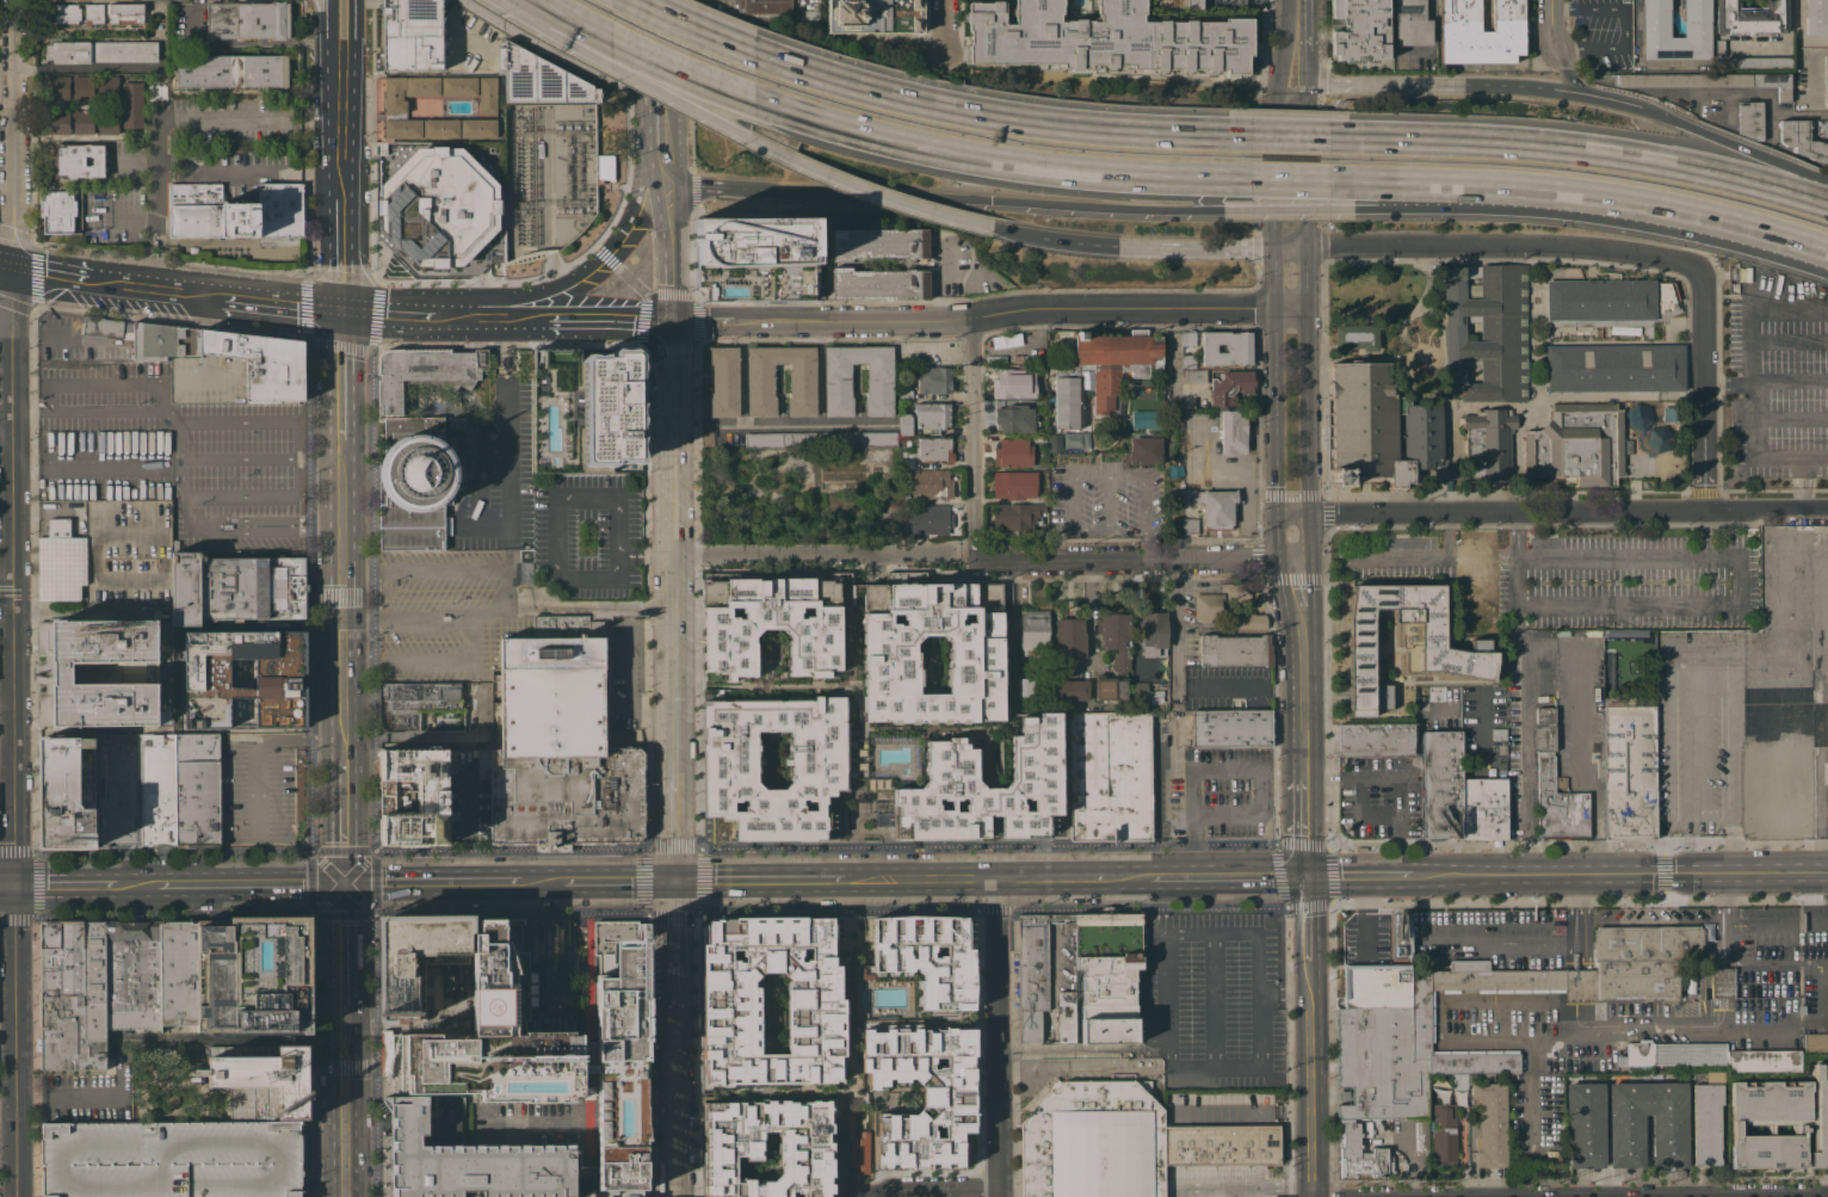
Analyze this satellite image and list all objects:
road: (327, 2)
road: (329, 2)
building: (1177, 5)
building: (765, 6)
building: (63, 13)
building: (94, 13)
building: (125, 13)
building: (875, 16)
building: (1750, 17)
building: (1816, 17)
building: (247, 20)
road: (352, 23)
road: (666, 23)
road: (1295, 23)
building: (1410, 23)
road: (1550, 24)
road: (1626, 24)
road: (329, 25)
road: (943, 25)
road: (691, 27)
building: (1358, 30)
building: (1655, 31)
building: (1480, 32)
road: (1798, 32)
parking lot: (1600, 33)
building: (412, 35)
building: (1105, 37)
road: (1433, 39)
road: (251, 43)
building: (1719, 48)
building: (101, 51)
road: (641, 54)
building: (1759, 62)
road: (1302, 66)
road: (73, 68)
road: (1564, 69)
road: (1812, 69)
building: (233, 70)
road: (1286, 76)
building: (538, 79)
road: (667, 79)
building: (1706, 81)
building: (1826, 81)
road: (1352, 84)
building: (107, 85)
road: (1315, 85)
road: (1477, 85)
building: (458, 86)
building: (58, 87)
building: (81, 87)
road: (1756, 90)
building: (487, 94)
road: (1293, 95)
road: (1606, 99)
building: (404, 104)
building: (132, 105)
road: (163, 116)
road: (998, 117)
road: (340, 118)
building: (1750, 119)
building: (60, 122)
building: (84, 122)
building: (109, 123)
building: (1827, 125)
building: (440, 128)
building: (478, 128)
road: (742, 136)
road: (1289, 136)
building: (1802, 138)
road: (668, 148)
road: (1734, 148)
road: (1580, 152)
building: (76, 160)
road: (998, 161)
road: (1308, 166)
road: (247, 168)
power substation: (549, 177)
road: (1277, 177)
road: (1290, 180)
road: (5, 186)
road: (644, 189)
road: (751, 189)
road: (1557, 192)
road: (910, 196)
traffic signals: (990, 200)
building: (438, 206)
road: (1119, 208)
road: (1290, 209)
building: (56, 211)
building: (235, 211)
road: (1556, 214)
road: (1055, 239)
building: (878, 243)
road: (1805, 245)
road: (1508, 246)
road: (1161, 247)
road: (1291, 247)
road: (1315, 247)
road: (1229, 248)
road: (1265, 248)
road: (339, 252)
road: (671, 252)
building: (755, 258)
road: (6, 265)
traffic signals: (12, 266)
road: (50, 272)
road: (634, 282)
building: (879, 284)
road: (943, 284)
road: (158, 286)
road: (1421, 295)
road: (527, 300)
road: (280, 301)
building: (1610, 302)
traffic signals: (338, 308)
road: (1291, 308)
road: (1826, 308)
road: (390, 311)
road: (1002, 314)
road: (500, 317)
road: (615, 321)
traffic signals: (672, 321)
road: (702, 321)
building: (103, 327)
building: (1486, 333)
building: (1188, 338)
road: (1789, 339)
road: (64, 340)
building: (1357, 340)
building: (165, 341)
road: (1172, 346)
building: (1227, 347)
road: (340, 348)
building: (1187, 360)
building: (261, 363)
building: (1616, 368)
road: (1749, 368)
building: (425, 371)
building: (1103, 371)
road: (339, 374)
building: (1194, 375)
building: (723, 380)
building: (838, 380)
building: (934, 380)
road: (1789, 380)
building: (760, 381)
road: (1725, 381)
building: (1014, 383)
building: (1230, 387)
road: (1702, 388)
building: (904, 393)
road: (1620, 395)
road: (1307, 402)
building: (610, 409)
building: (932, 415)
building: (1637, 415)
building: (1014, 418)
building: (1144, 418)
road: (1789, 418)
road: (273, 421)
building: (904, 422)
building: (1379, 426)
building: (1233, 431)
road: (8, 436)
road: (972, 437)
road: (506, 438)
road: (672, 438)
building: (1038, 438)
building: (1653, 438)
building: (820, 439)
road: (17, 442)
building: (1055, 443)
building: (1489, 443)
building: (1577, 444)
building: (934, 449)
building: (1144, 449)
road: (1274, 449)
parking lot: (165, 450)
building: (1013, 452)
road: (239, 456)
building: (904, 456)
road: (1815, 457)
road: (1802, 462)
road: (372, 463)
road: (1804, 468)
road: (1798, 469)
road: (179, 470)
road: (1105, 474)
building: (1446, 476)
building: (416, 481)
road: (1796, 481)
road: (1808, 481)
building: (931, 485)
building: (1014, 485)
road: (8, 490)
road: (239, 493)
road: (1801, 494)
road: (1802, 500)
road: (1107, 501)
road: (1818, 505)
building: (1215, 506)
road: (1802, 506)
road: (1534, 511)
road: (556, 513)
building: (1015, 516)
building: (928, 520)
building: (1190, 525)
building: (58, 527)
road: (1088, 529)
road: (1365, 531)
road: (1446, 532)
road: (1705, 533)
road: (1517, 535)
road: (646, 548)
road: (823, 553)
road: (1406, 553)
road: (1141, 559)
road: (644, 561)
building: (61, 567)
road: (440, 570)
road: (356, 572)
parking lot: (1626, 581)
road: (1309, 582)
building: (237, 587)
building: (1236, 590)
road: (341, 597)
road: (315, 598)
road: (1739, 604)
building: (1208, 606)
road: (570, 607)
road: (75, 612)
road: (490, 613)
building: (1245, 621)
road: (1826, 621)
building: (770, 623)
road: (1174, 623)
road: (1305, 625)
building: (1033, 629)
building: (1153, 633)
building: (1069, 637)
road: (473, 640)
building: (1404, 640)
road: (1561, 643)
building: (888, 648)
building: (1235, 650)
building: (1122, 653)
building: (97, 672)
building: (283, 678)
road: (1826, 680)
building: (1024, 687)
building: (1140, 689)
road: (1246, 689)
building: (1072, 690)
building: (1435, 693)
building: (414, 702)
road: (8, 704)
road: (1303, 711)
road: (373, 714)
road: (674, 717)
building: (1230, 728)
building: (1544, 729)
building: (1376, 739)
road: (258, 741)
building: (558, 745)
road: (1821, 757)
road: (1227, 766)
building: (1630, 767)
building: (869, 773)
building: (1110, 775)
road: (1731, 777)
road: (1400, 778)
building: (1440, 784)
building: (117, 790)
building: (198, 791)
building: (67, 792)
building: (158, 792)
parking lot: (1218, 794)
building: (412, 796)
building: (1558, 803)
building: (1483, 809)
road: (463, 814)
road: (342, 817)
building: (828, 817)
building: (882, 819)
road: (1304, 827)
road: (826, 849)
road: (14, 851)
road: (1818, 853)
road: (172, 854)
road: (1618, 875)
road: (1233, 876)
road: (1280, 876)
traffic signals: (1305, 876)
road: (1358, 876)
road: (920, 877)
road: (1051, 877)
road: (1132, 877)
road: (759, 878)
road: (622, 880)
traffic signals: (677, 880)
traffic signals: (344, 881)
road: (432, 881)
road: (544, 881)
road: (249, 882)
road: (64, 884)
road: (136, 884)
road: (7, 886)
traffic signals: (14, 886)
road: (1160, 906)
road: (829, 911)
road: (156, 912)
road: (556, 914)
road: (1365, 914)
road: (1305, 918)
road: (1645, 921)
building: (1400, 932)
road: (1721, 940)
road: (1500, 944)
road: (1581, 944)
road: (344, 945)
road: (1570, 945)
building: (926, 956)
building: (414, 960)
road: (1798, 963)
building: (1032, 971)
building: (178, 973)
building: (132, 974)
building: (254, 975)
building: (1107, 976)
building: (94, 981)
road: (1721, 981)
building: (1723, 982)
road: (1568, 983)
road: (1581, 983)
road: (1215, 991)
road: (1285, 991)
road: (14, 992)
building: (771, 995)
parking lot: (1217, 998)
building: (64, 1001)
helipad: (489, 1006)
road: (576, 1013)
building: (1066, 1017)
road: (1571, 1017)
building: (1383, 1020)
road: (1440, 1025)
road: (1629, 1025)
road: (1761, 1025)
building: (489, 1036)
road: (999, 1037)
road: (677, 1038)
building: (1815, 1042)
road: (316, 1054)
road: (372, 1054)
building: (1711, 1056)
road: (1074, 1067)
building: (620, 1069)
road: (1264, 1069)
road: (587, 1074)
road: (1307, 1078)
building: (265, 1082)
road: (1530, 1092)
building: (919, 1094)
road: (70, 1098)
road: (344, 1104)
road: (660, 1109)
building: (1192, 1109)
road: (619, 1110)
road: (8, 1111)
road: (573, 1117)
building: (1707, 1117)
building: (1779, 1121)
road: (515, 1123)
building: (1492, 1124)
building: (1586, 1124)
road: (573, 1125)
road: (660, 1127)
road: (619, 1128)
building: (1444, 1131)
building: (1421, 1135)
building: (1093, 1141)
building: (1626, 1142)
building: (1222, 1144)
road: (17, 1148)
building: (765, 1148)
road: (1471, 1149)
building: (1358, 1153)
building: (860, 1154)
building: (468, 1158)
building: (171, 1159)
parking lot: (171, 1159)
building: (1277, 1177)
building: (1206, 1178)
building: (1230, 1178)
building: (1254, 1178)
road: (921, 1189)
road: (1568, 1196)

